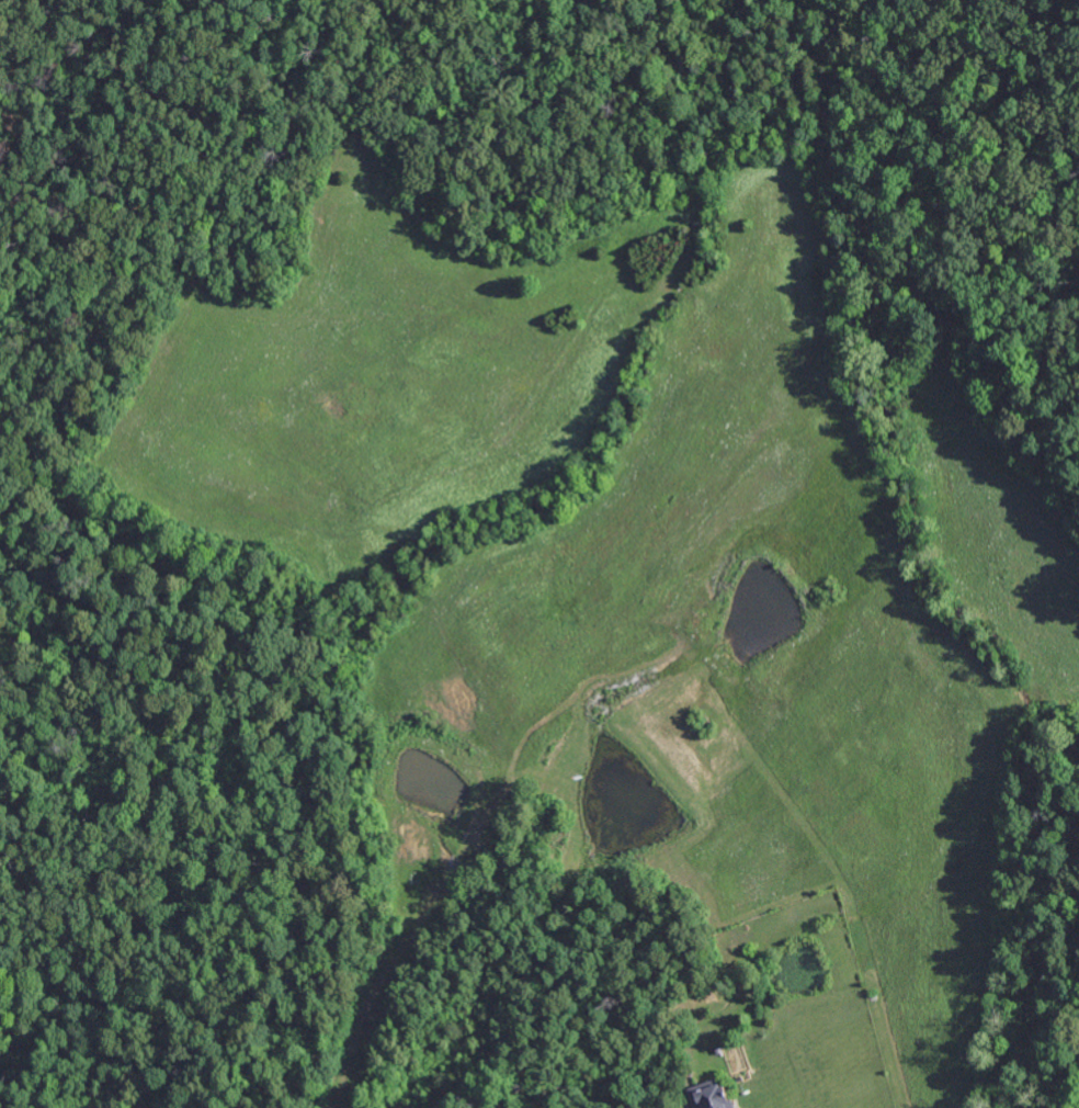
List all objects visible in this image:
building: (714, 1096)

